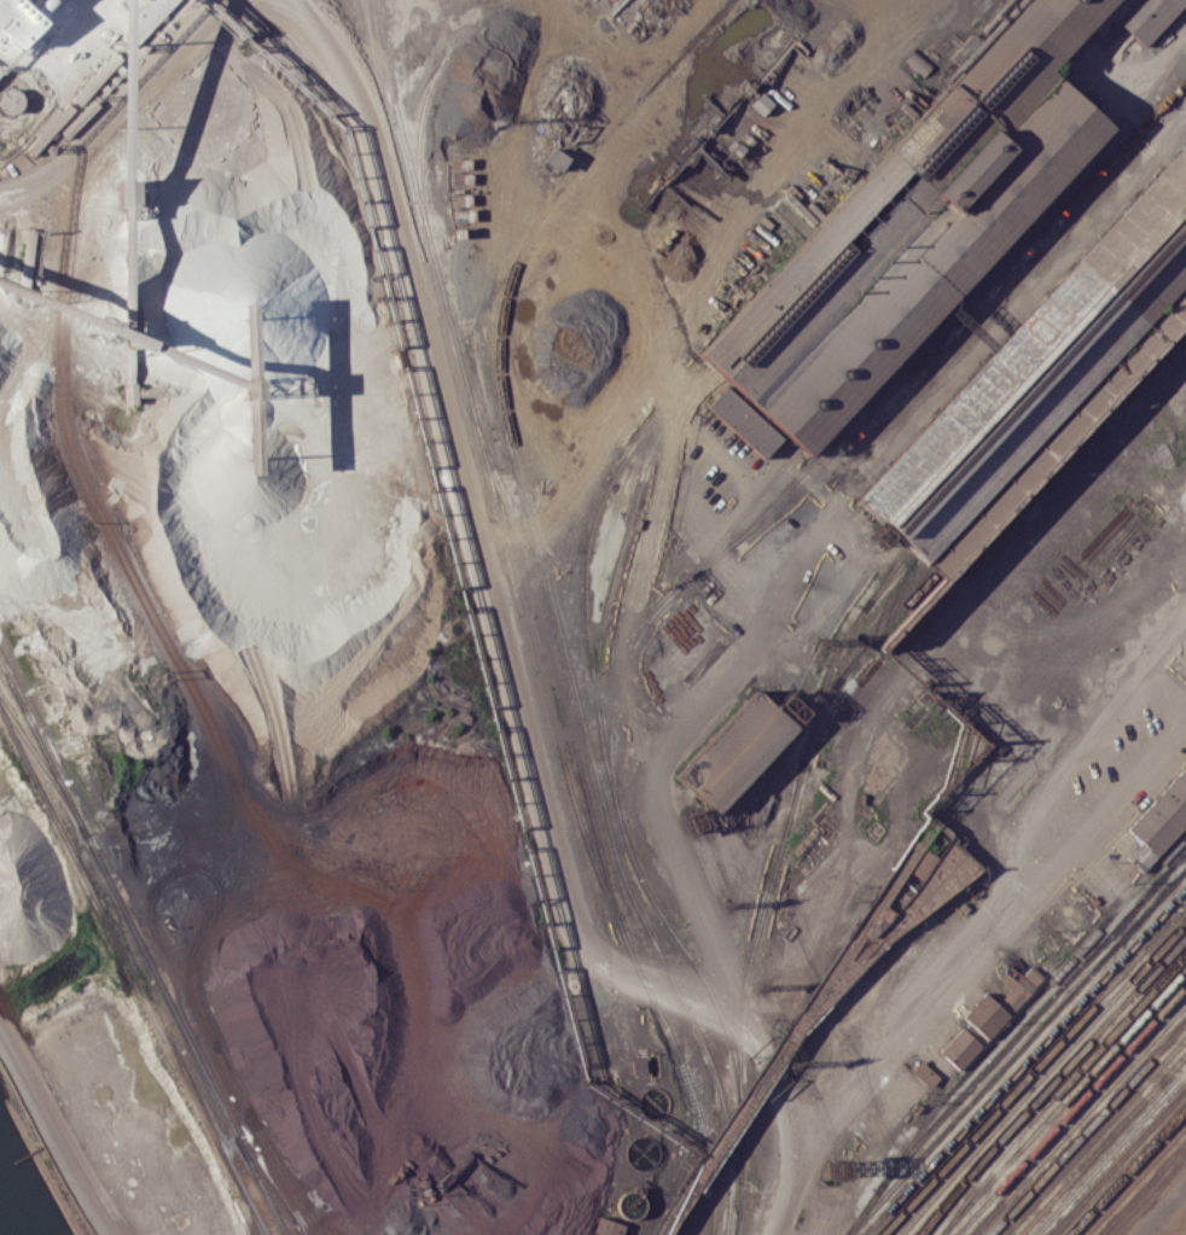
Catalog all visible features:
building: (1145, 16)
building: (917, 63)
building: (0, 72)
railway: (1143, 80)
building: (10, 100)
road: (123, 104)
railway: (424, 107)
railway: (1141, 127)
building: (556, 159)
building: (915, 226)
railway: (950, 281)
railway: (922, 366)
railway: (463, 369)
building: (1041, 377)
road: (668, 383)
railway: (851, 419)
building: (746, 421)
railway: (512, 438)
railway: (737, 520)
road: (812, 525)
railway: (623, 537)
railway: (886, 579)
road: (506, 627)
railway: (883, 628)
building: (679, 649)
railway: (851, 660)
railway: (554, 671)
road: (905, 680)
building: (732, 752)
railway: (43, 764)
railway: (614, 792)
building: (1164, 811)
railway: (786, 820)
road: (983, 944)
railway: (144, 945)
railway: (872, 949)
railway: (130, 971)
railway: (647, 984)
building: (1001, 1001)
railway: (1024, 1007)
railway: (795, 1031)
railway: (1012, 1039)
building: (959, 1048)
railway: (1016, 1050)
railway: (1025, 1061)
railway: (1033, 1068)
building: (924, 1073)
railway: (1042, 1074)
railway: (717, 1080)
railway: (1050, 1084)
railway: (1058, 1089)
railway: (1063, 1100)
railway: (1071, 1109)
railway: (1079, 1119)
railway: (1086, 1126)
railway: (1094, 1136)
railway: (1103, 1144)
railway: (1110, 1153)
railway: (1118, 1161)
railway: (1126, 1170)
railway: (1167, 1175)
railway: (1134, 1179)
railway: (1141, 1188)
railway: (1151, 1196)
road: (1175, 1224)
building: (607, 1227)

